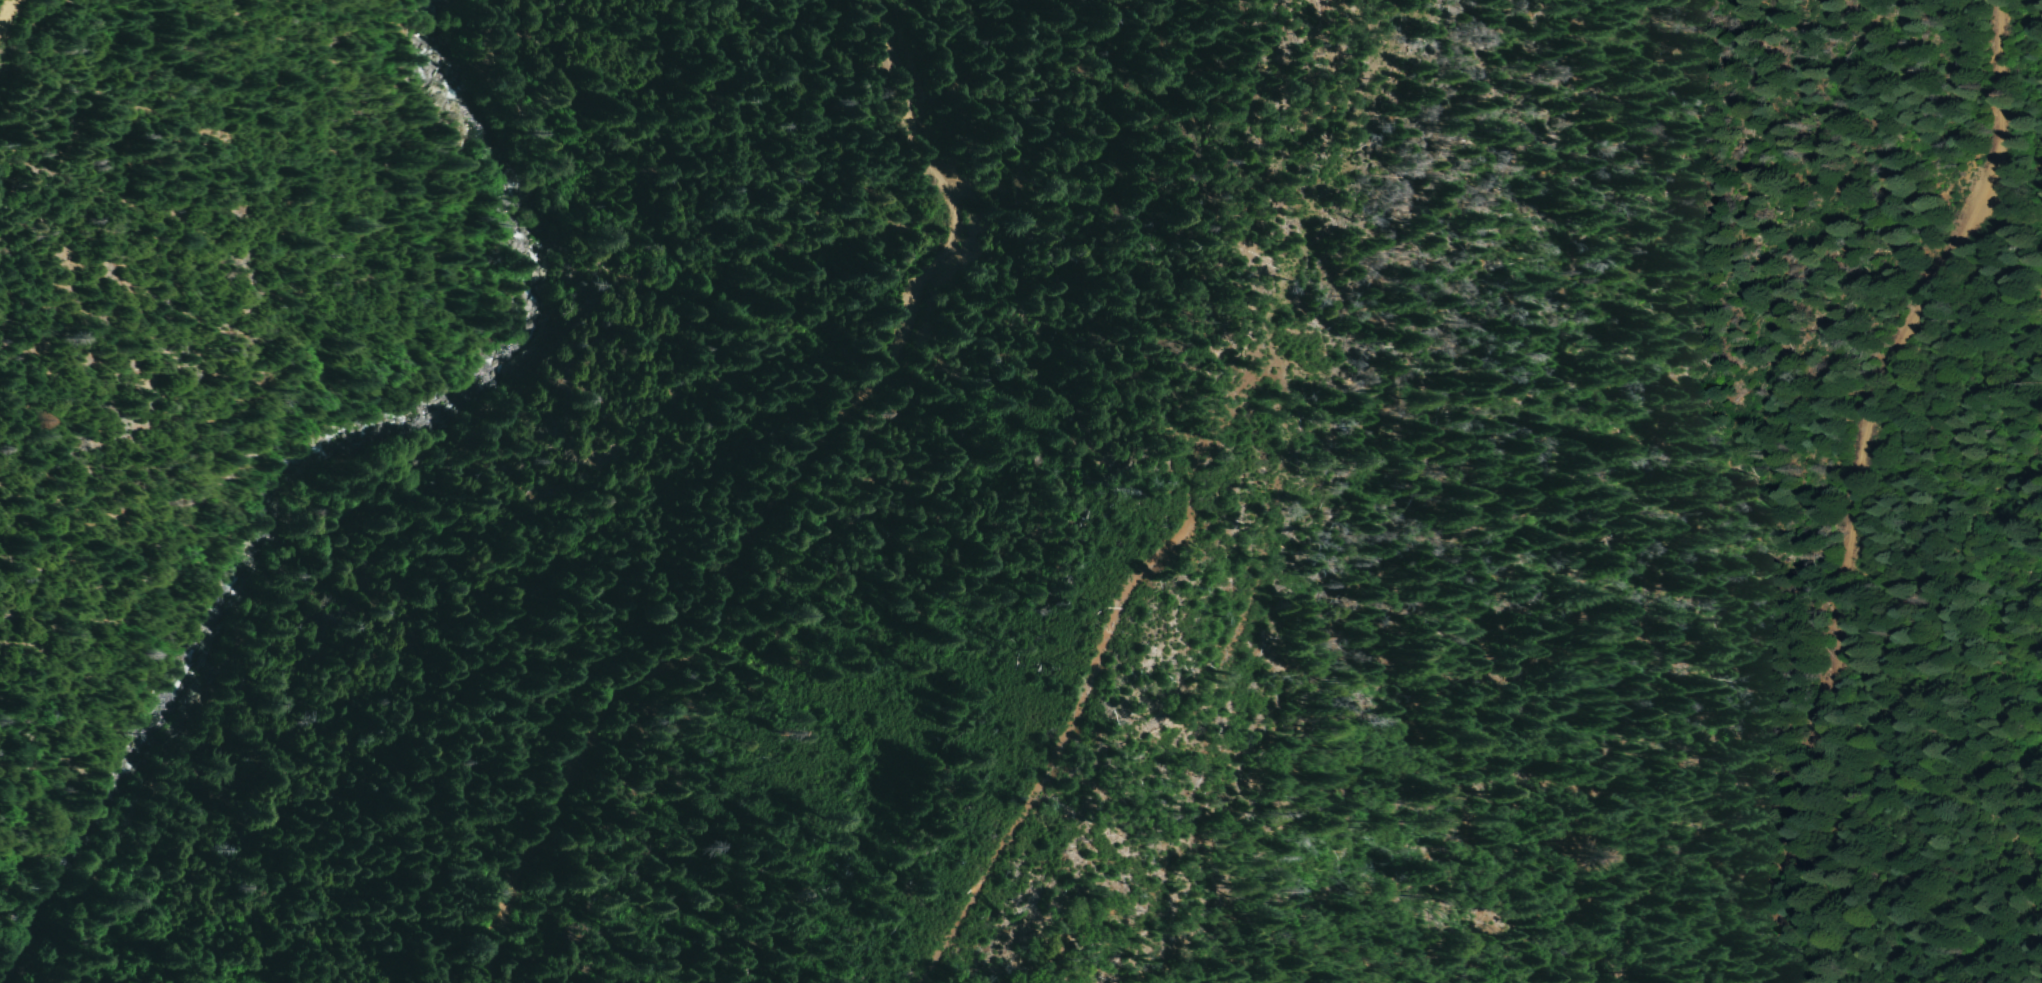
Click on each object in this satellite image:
road: (1827, 479)

